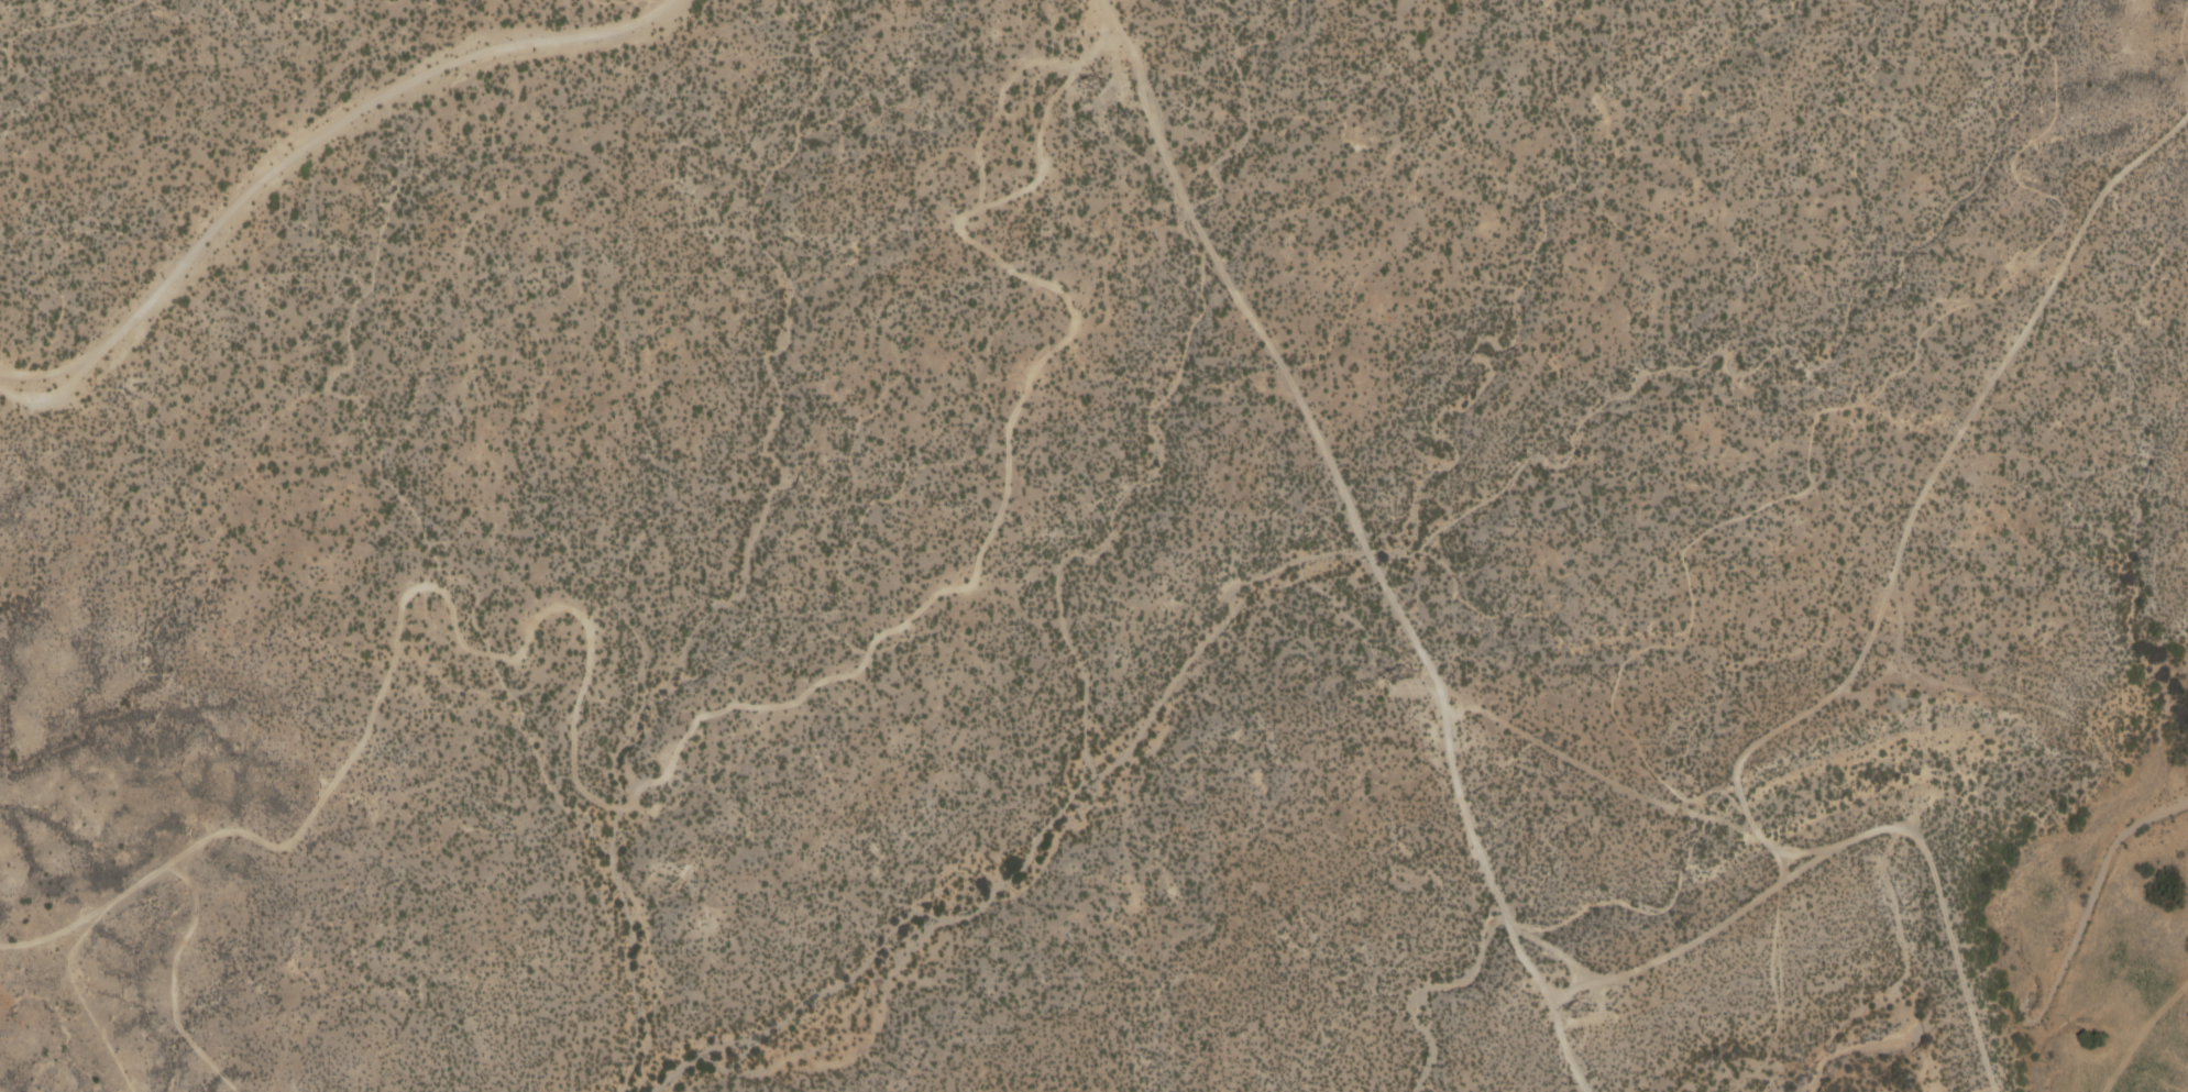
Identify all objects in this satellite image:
road: (2178, 43)
power tower: (1099, 82)
road: (310, 142)
road: (1914, 503)
road: (1362, 538)
power tower: (1408, 672)
road: (1845, 841)
dam: (1944, 897)
power tower: (1583, 1008)

